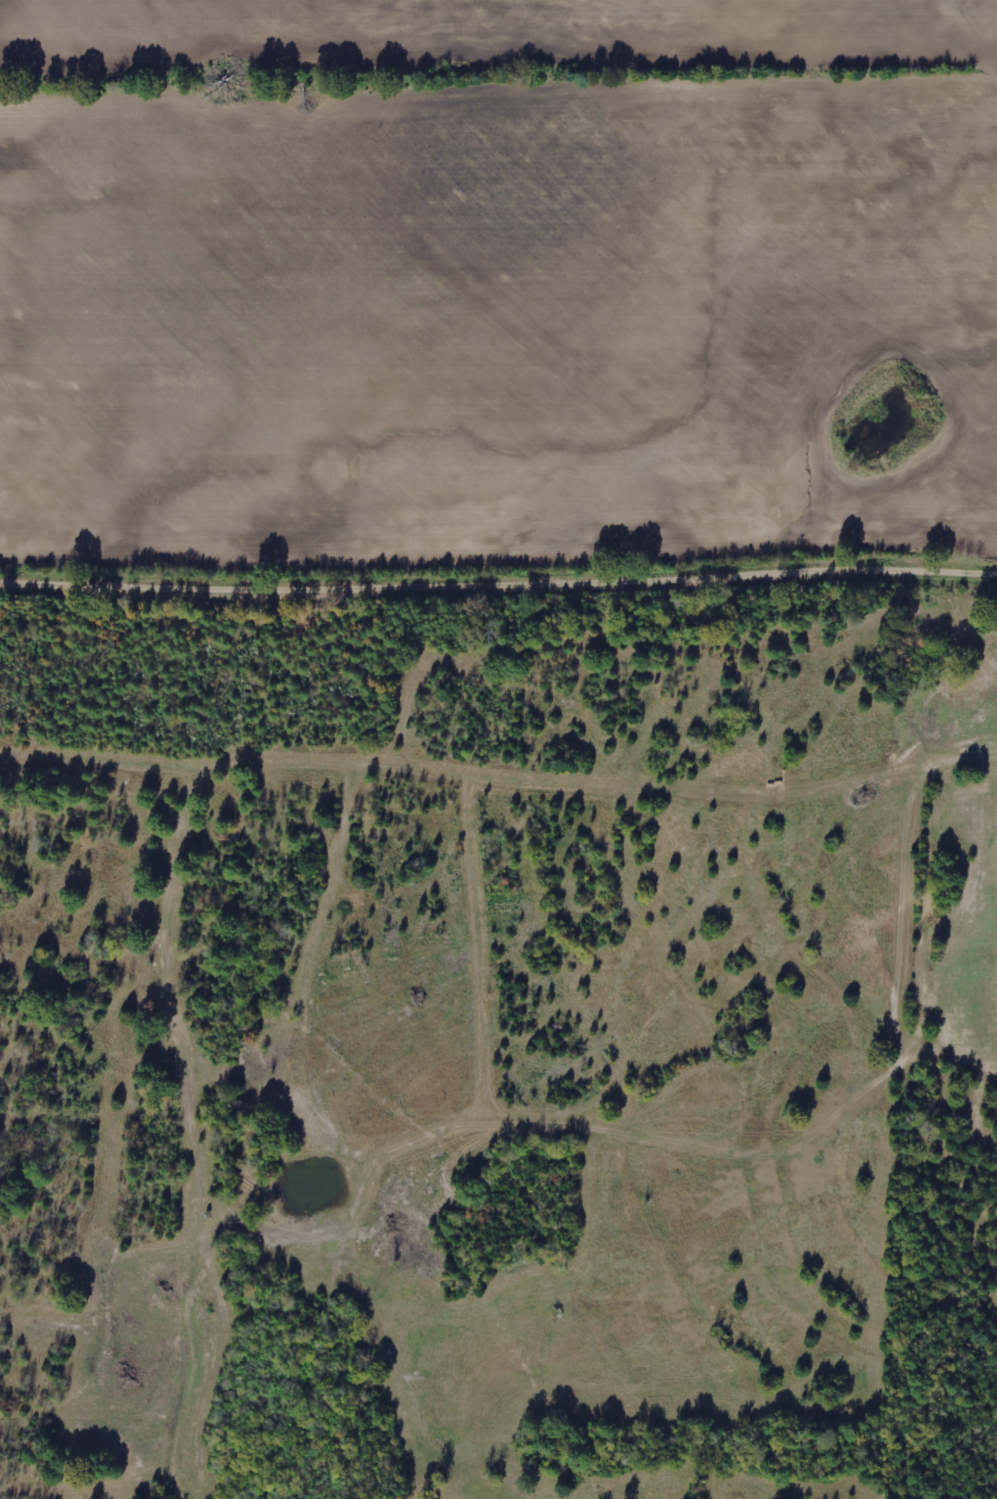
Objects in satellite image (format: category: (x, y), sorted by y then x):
road: (499, 589)

